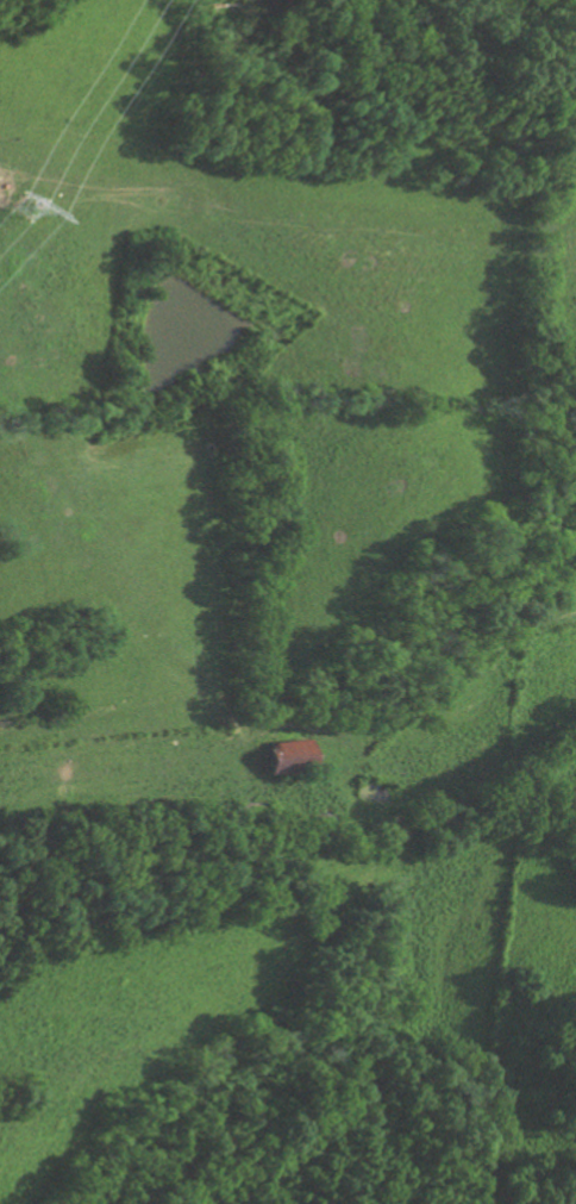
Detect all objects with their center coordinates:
power tower: (20, 208)
road: (403, 673)

